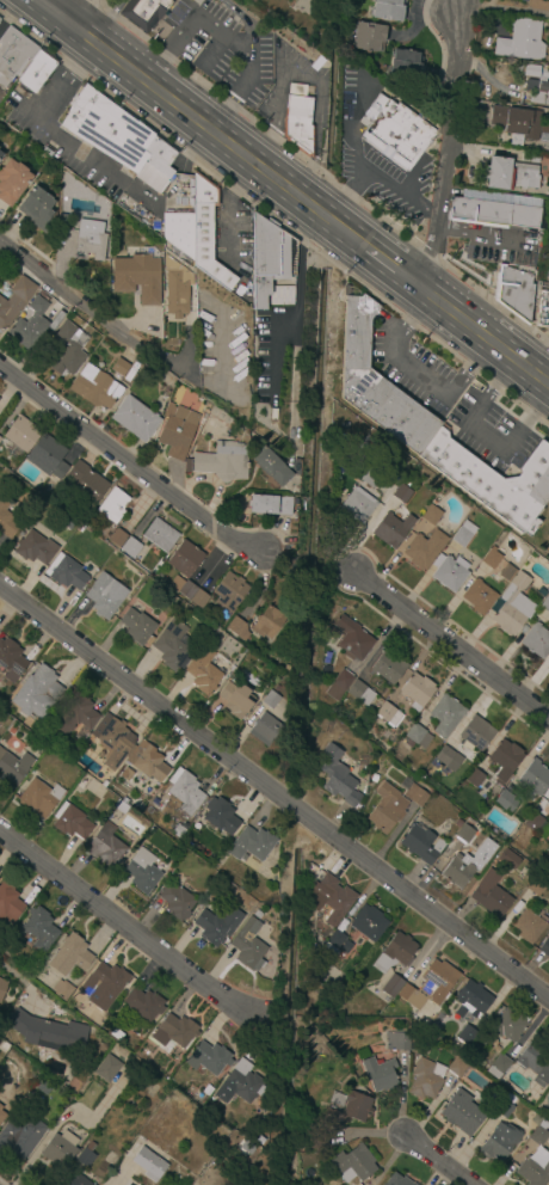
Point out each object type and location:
building: (289, 0)
building: (538, 5)
road: (115, 7)
road: (461, 7)
road: (436, 8)
building: (389, 10)
road: (50, 11)
road: (73, 11)
building: (143, 12)
road: (234, 12)
road: (205, 23)
road: (99, 26)
building: (370, 37)
building: (520, 41)
parking lot: (221, 48)
road: (211, 51)
building: (13, 53)
building: (402, 60)
road: (248, 61)
road: (156, 65)
building: (35, 70)
road: (62, 78)
parking lot: (282, 80)
building: (538, 91)
road: (227, 116)
building: (300, 121)
building: (517, 122)
building: (545, 123)
road: (214, 133)
building: (395, 133)
building: (115, 134)
parking lot: (84, 149)
building: (0, 152)
road: (444, 152)
building: (0, 154)
parking lot: (377, 155)
building: (530, 156)
road: (94, 160)
building: (510, 174)
road: (238, 177)
building: (12, 180)
building: (178, 204)
park: (547, 204)
building: (36, 208)
building: (493, 213)
building: (62, 222)
road: (230, 232)
building: (199, 235)
parking lot: (233, 241)
building: (88, 242)
road: (506, 242)
parking lot: (486, 251)
road: (489, 256)
road: (388, 263)
building: (271, 264)
road: (300, 270)
building: (547, 275)
building: (136, 278)
building: (175, 287)
building: (513, 290)
building: (14, 301)
building: (542, 311)
road: (97, 317)
building: (31, 325)
road: (480, 332)
parking lot: (273, 348)
building: (68, 350)
road: (538, 357)
road: (272, 358)
parking lot: (413, 367)
building: (119, 368)
road: (415, 374)
building: (376, 382)
building: (94, 387)
building: (135, 419)
parking lot: (488, 430)
building: (177, 431)
building: (19, 436)
road: (480, 436)
building: (0, 441)
building: (48, 458)
building: (224, 462)
road: (128, 463)
building: (187, 466)
building: (271, 466)
building: (371, 479)
building: (493, 481)
building: (86, 483)
building: (402, 493)
building: (269, 505)
building: (357, 505)
building: (112, 506)
building: (431, 515)
building: (6, 521)
building: (391, 529)
building: (462, 533)
building: (159, 535)
building: (116, 536)
building: (129, 547)
building: (35, 548)
building: (422, 549)
building: (185, 558)
building: (491, 558)
building: (449, 571)
building: (506, 572)
building: (67, 573)
building: (187, 591)
building: (228, 591)
building: (104, 595)
building: (477, 597)
building: (544, 603)
building: (512, 607)
building: (267, 622)
building: (238, 624)
building: (137, 626)
building: (352, 639)
building: (536, 640)
building: (172, 645)
road: (454, 649)
building: (11, 659)
building: (548, 665)
building: (389, 667)
building: (205, 670)
building: (338, 684)
building: (417, 690)
building: (37, 692)
building: (360, 694)
building: (235, 699)
building: (271, 700)
building: (75, 713)
building: (389, 714)
building: (445, 714)
building: (266, 730)
building: (475, 735)
building: (418, 736)
building: (113, 741)
building: (506, 759)
building: (449, 760)
building: (147, 762)
building: (13, 766)
building: (125, 774)
building: (338, 778)
building: (535, 778)
building: (480, 782)
building: (184, 791)
road: (274, 791)
building: (412, 792)
building: (41, 798)
building: (505, 800)
building: (548, 800)
building: (121, 806)
building: (387, 809)
building: (220, 816)
building: (72, 822)
building: (533, 822)
building: (457, 823)
building: (178, 831)
building: (465, 834)
building: (420, 843)
building: (251, 845)
building: (106, 847)
building: (510, 860)
building: (142, 871)
building: (458, 871)
building: (216, 877)
building: (536, 886)
building: (333, 897)
building: (492, 898)
building: (177, 901)
building: (8, 903)
building: (518, 907)
building: (543, 913)
road: (127, 923)
building: (369, 923)
building: (216, 925)
building: (528, 927)
building: (39, 928)
building: (333, 941)
building: (247, 945)
building: (345, 946)
building: (545, 948)
building: (395, 953)
building: (69, 954)
building: (103, 986)
building: (430, 986)
building: (391, 987)
building: (2, 988)
building: (61, 989)
building: (471, 1000)
building: (144, 1005)
building: (508, 1026)
building: (174, 1032)
building: (467, 1033)
building: (113, 1034)
building: (54, 1036)
building: (396, 1040)
building: (209, 1058)
building: (535, 1064)
building: (499, 1066)
building: (456, 1067)
building: (107, 1069)
building: (380, 1075)
building: (426, 1079)
building: (242, 1081)
building: (206, 1091)
building: (505, 1107)
building: (346, 1109)
building: (461, 1113)
building: (1, 1117)
building: (538, 1135)
building: (20, 1137)
building: (314, 1140)
building: (499, 1142)
building: (60, 1149)
building: (86, 1155)
road: (434, 1161)
building: (148, 1165)
building: (353, 1165)
building: (535, 1172)
building: (399, 1179)
building: (75, 1181)
building: (548, 1184)

